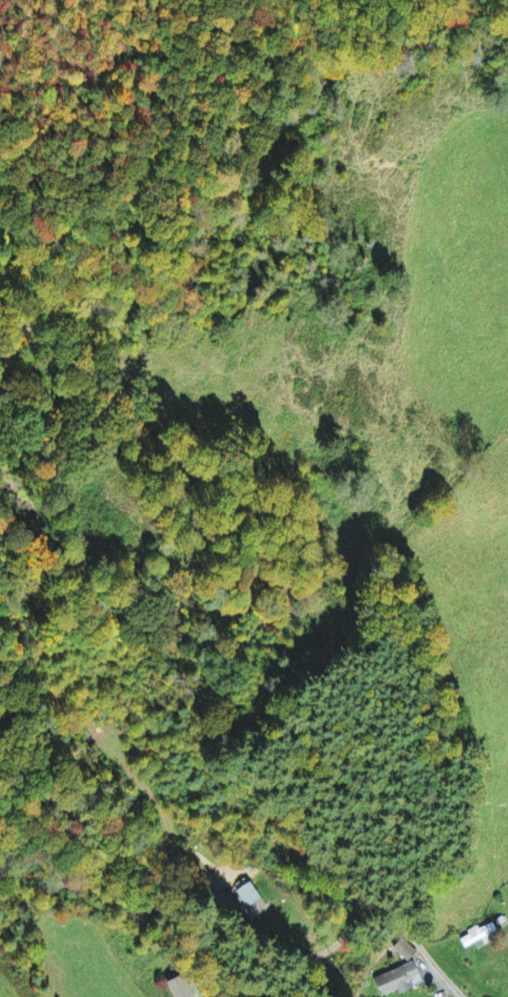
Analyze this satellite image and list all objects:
road: (324, 834)
building: (254, 898)
building: (481, 935)
building: (399, 980)
building: (185, 988)
road: (186, 991)

